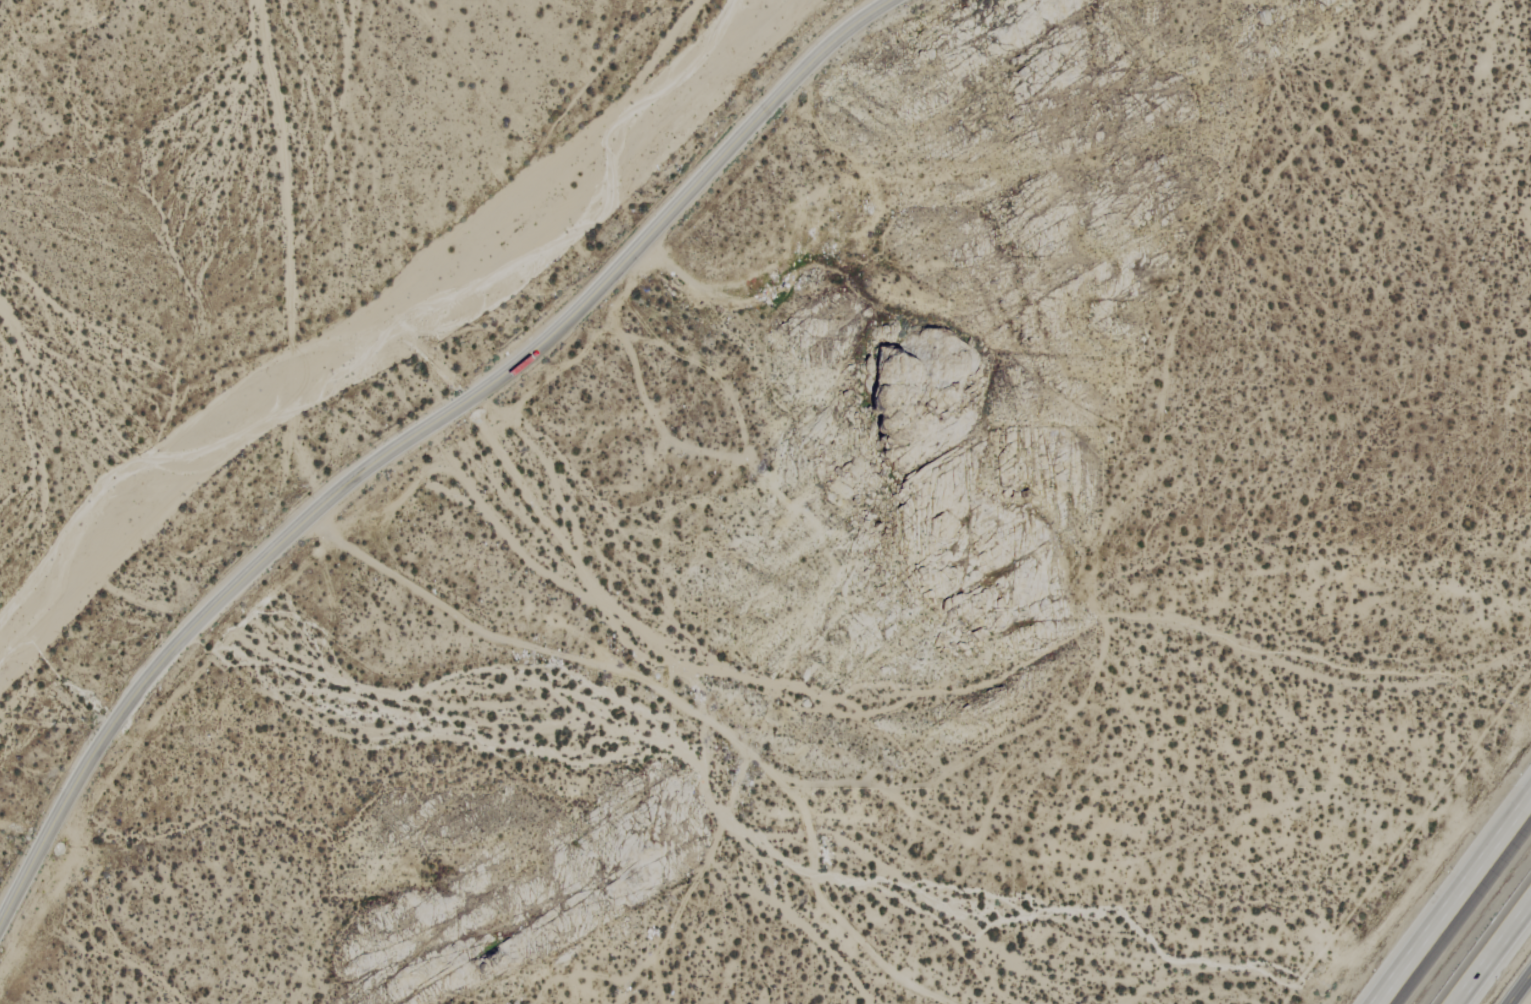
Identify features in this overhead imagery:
road: (412, 433)
road: (1456, 902)
railway: (1474, 927)
road: (1488, 947)
road: (1520, 990)

